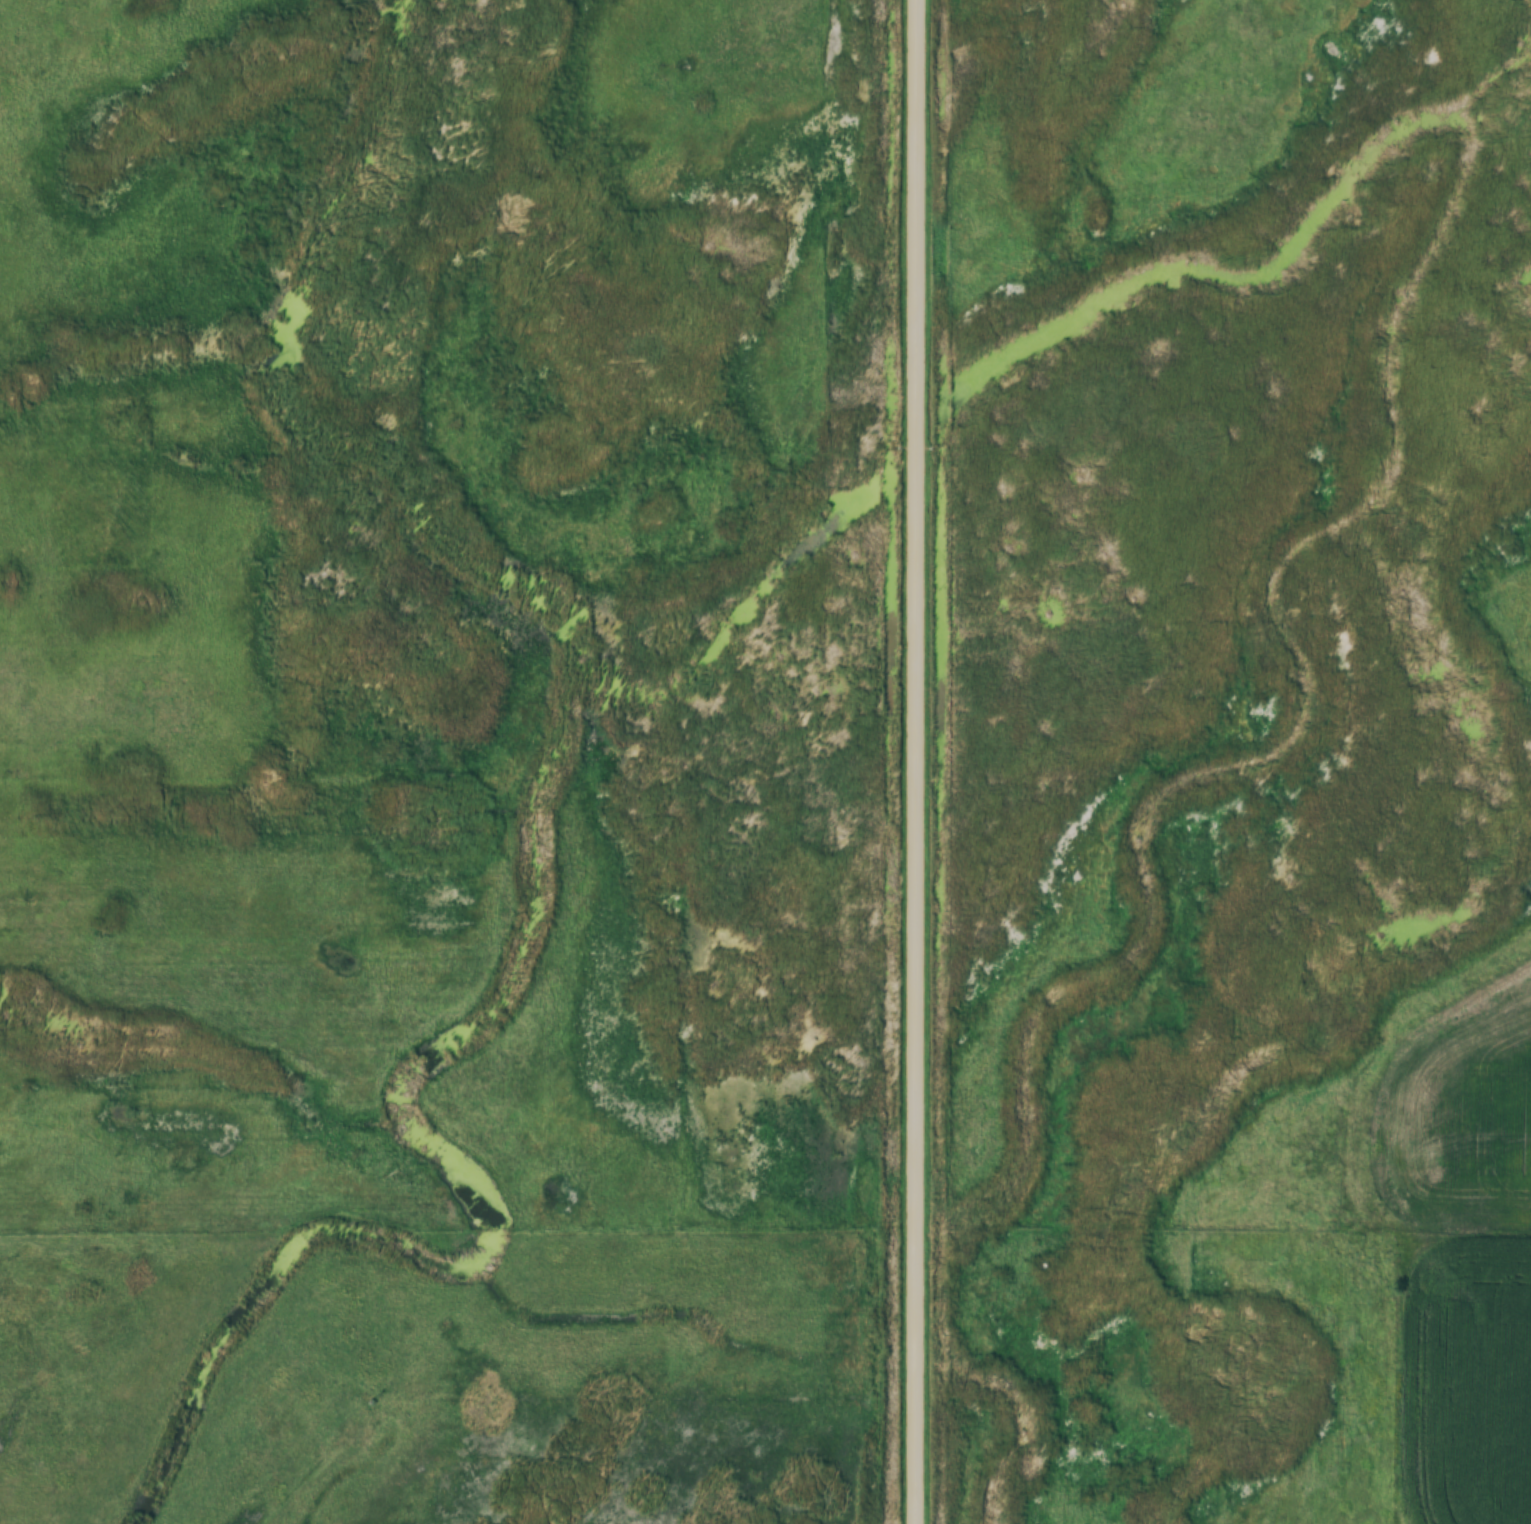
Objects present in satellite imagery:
road: (916, 761)

